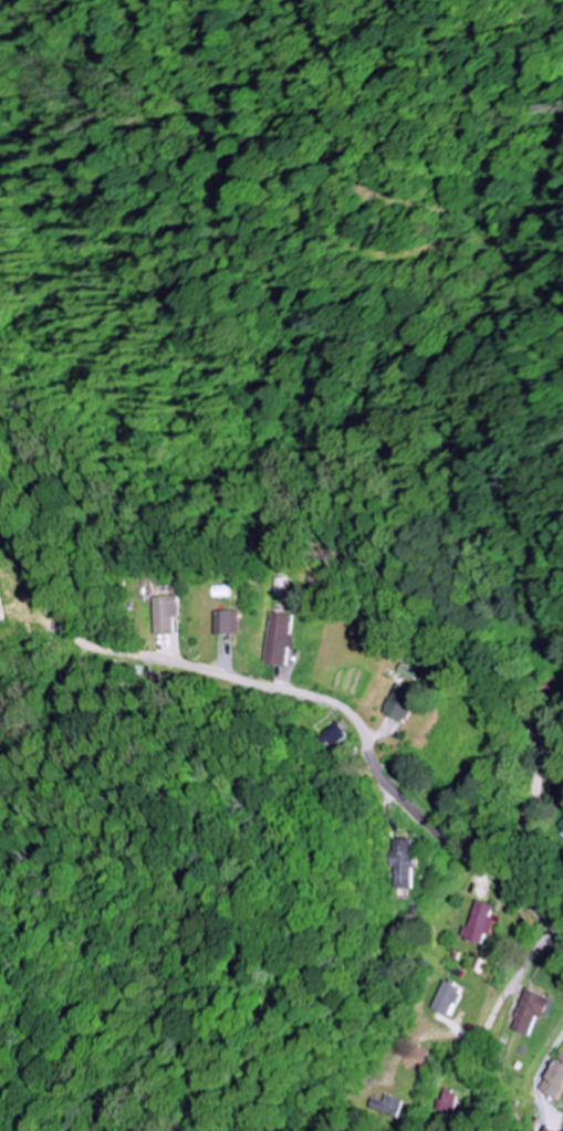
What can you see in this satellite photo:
building: (170, 614)
building: (231, 622)
building: (284, 639)
building: (409, 703)
building: (332, 735)
building: (562, 827)
road: (475, 855)
building: (404, 862)
building: (484, 923)
road: (511, 991)
building: (446, 998)
building: (536, 1010)
building: (556, 1083)
building: (448, 1102)
building: (392, 1107)

